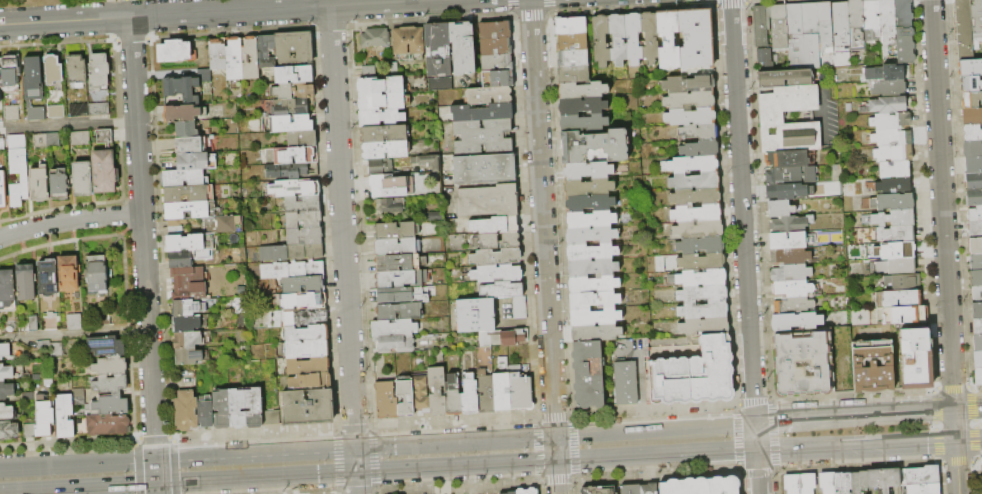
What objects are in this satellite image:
building: (971, 0)
park: (46, 2)
park: (46, 2)
road: (215, 12)
building: (856, 14)
building: (977, 18)
building: (872, 20)
building: (888, 21)
building: (841, 24)
building: (571, 26)
building: (761, 26)
building: (778, 26)
building: (825, 27)
building: (495, 30)
building: (964, 30)
building: (905, 32)
building: (803, 36)
building: (375, 38)
building: (650, 38)
building: (634, 39)
building: (697, 39)
building: (618, 40)
building: (669, 40)
building: (408, 41)
building: (601, 41)
building: (572, 43)
building: (496, 47)
building: (294, 48)
building: (463, 48)
building: (438, 50)
building: (175, 51)
building: (266, 51)
building: (218, 55)
building: (766, 58)
building: (251, 59)
building: (573, 59)
building: (234, 60)
building: (497, 63)
building: (970, 68)
building: (53, 70)
building: (77, 71)
building: (99, 72)
building: (886, 72)
building: (10, 74)
building: (295, 75)
building: (574, 75)
building: (33, 78)
building: (497, 79)
building: (786, 79)
building: (441, 83)
building: (688, 84)
building: (971, 84)
building: (0, 85)
building: (381, 86)
building: (890, 88)
building: (182, 89)
building: (295, 91)
building: (583, 91)
building: (490, 95)
building: (690, 100)
building: (972, 100)
building: (382, 102)
building: (886, 105)
building: (582, 106)
building: (291, 107)
building: (99, 109)
building: (79, 111)
building: (56, 112)
building: (483, 112)
building: (12, 114)
building: (37, 114)
building: (182, 114)
building: (690, 116)
building: (772, 117)
building: (972, 117)
building: (381, 118)
building: (891, 121)
building: (293, 123)
building: (583, 123)
road: (68, 124)
building: (187, 129)
building: (700, 131)
building: (973, 133)
building: (384, 134)
building: (482, 137)
building: (81, 138)
building: (892, 138)
building: (303, 139)
building: (54, 140)
building: (41, 141)
building: (17, 142)
building: (2, 143)
building: (191, 145)
building: (595, 146)
building: (700, 149)
building: (973, 149)
building: (386, 150)
building: (894, 154)
building: (293, 155)
building: (787, 159)
building: (427, 160)
building: (197, 162)
building: (105, 165)
building: (694, 165)
building: (974, 165)
building: (381, 167)
building: (485, 170)
building: (895, 170)
building: (588, 171)
building: (292, 172)
building: (791, 176)
building: (184, 178)
building: (24, 179)
building: (83, 179)
building: (695, 181)
road: (740, 181)
building: (974, 182)
building: (40, 184)
building: (60, 185)
building: (390, 186)
building: (894, 186)
building: (589, 187)
building: (294, 188)
building: (3, 191)
building: (783, 192)
building: (190, 194)
building: (696, 198)
building: (975, 198)
building: (488, 201)
building: (893, 202)
building: (303, 203)
building: (590, 203)
building: (391, 205)
road: (942, 205)
building: (781, 209)
building: (191, 210)
building: (697, 214)
building: (975, 215)
road: (542, 217)
building: (895, 219)
road: (69, 220)
building: (304, 220)
building: (591, 220)
building: (174, 223)
building: (791, 224)
building: (495, 225)
building: (699, 230)
building: (975, 230)
building: (175, 231)
building: (395, 231)
building: (902, 235)
building: (304, 236)
building: (591, 236)
building: (790, 241)
building: (497, 242)
building: (186, 243)
building: (701, 246)
building: (975, 246)
building: (396, 247)
road: (343, 250)
building: (899, 251)
building: (291, 252)
building: (592, 253)
road: (143, 255)
building: (496, 257)
building: (791, 257)
building: (180, 260)
building: (701, 262)
building: (976, 262)
building: (398, 263)
building: (897, 267)
building: (593, 268)
building: (292, 270)
building: (188, 271)
building: (497, 273)
building: (69, 274)
building: (791, 274)
building: (98, 275)
building: (49, 277)
building: (702, 278)
building: (401, 279)
building: (976, 279)
building: (904, 282)
building: (27, 283)
building: (304, 285)
building: (593, 285)
building: (190, 288)
building: (793, 289)
building: (502, 290)
building: (7, 291)
building: (703, 294)
building: (402, 295)
building: (977, 295)
building: (899, 299)
building: (594, 300)
building: (313, 301)
building: (289, 302)
building: (794, 306)
building: (188, 308)
building: (520, 308)
building: (704, 311)
building: (977, 311)
building: (399, 312)
building: (52, 315)
building: (476, 315)
building: (903, 315)
building: (306, 317)
building: (596, 317)
building: (106, 318)
building: (75, 322)
building: (797, 322)
building: (34, 323)
building: (186, 324)
building: (705, 326)
building: (977, 327)
building: (396, 328)
road: (73, 332)
building: (307, 333)
building: (596, 333)
building: (508, 338)
building: (188, 340)
building: (978, 343)
building: (44, 345)
building: (394, 345)
building: (107, 346)
building: (308, 349)
building: (57, 350)
building: (873, 350)
building: (4, 351)
building: (485, 354)
road: (628, 354)
building: (188, 357)
building: (915, 359)
building: (978, 360)
building: (503, 362)
building: (308, 365)
building: (802, 365)
building: (110, 366)
building: (6, 373)
building: (589, 375)
building: (694, 375)
road: (752, 377)
building: (978, 377)
building: (874, 378)
building: (311, 382)
building: (626, 383)
building: (111, 384)
building: (6, 391)
building: (438, 391)
road: (642, 391)
building: (486, 392)
building: (521, 392)
building: (503, 393)
building: (421, 394)
building: (471, 396)
building: (79, 397)
building: (406, 397)
building: (453, 397)
building: (386, 400)
building: (111, 406)
building: (308, 408)
road: (753, 408)
building: (222, 409)
building: (238, 409)
building: (254, 409)
road: (968, 409)
traffic signals: (954, 410)
building: (187, 411)
road: (926, 411)
building: (6, 412)
building: (206, 414)
building: (65, 416)
road: (852, 416)
building: (44, 417)
building: (271, 418)
road: (780, 421)
traffic signals: (754, 423)
building: (108, 425)
road: (955, 425)
road: (654, 428)
building: (9, 431)
building: (30, 431)
traffic signals: (555, 435)
road: (755, 436)
road: (968, 439)
traffic signals: (956, 440)
road: (911, 442)
road: (812, 447)
traffic signals: (756, 449)
road: (277, 451)
traffic signals: (156, 458)
traffic signals: (556, 461)
road: (556, 464)
road: (957, 467)
road: (378, 470)
road: (757, 471)
building: (922, 475)
building: (883, 479)
building: (859, 482)
building: (806, 483)
building: (827, 483)
building: (843, 483)
traffic signals: (157, 484)
building: (791, 484)
building: (725, 485)
building: (687, 486)
building: (631, 489)
building: (649, 489)
building: (922, 489)
building: (599, 490)
building: (527, 491)
building: (508, 493)

